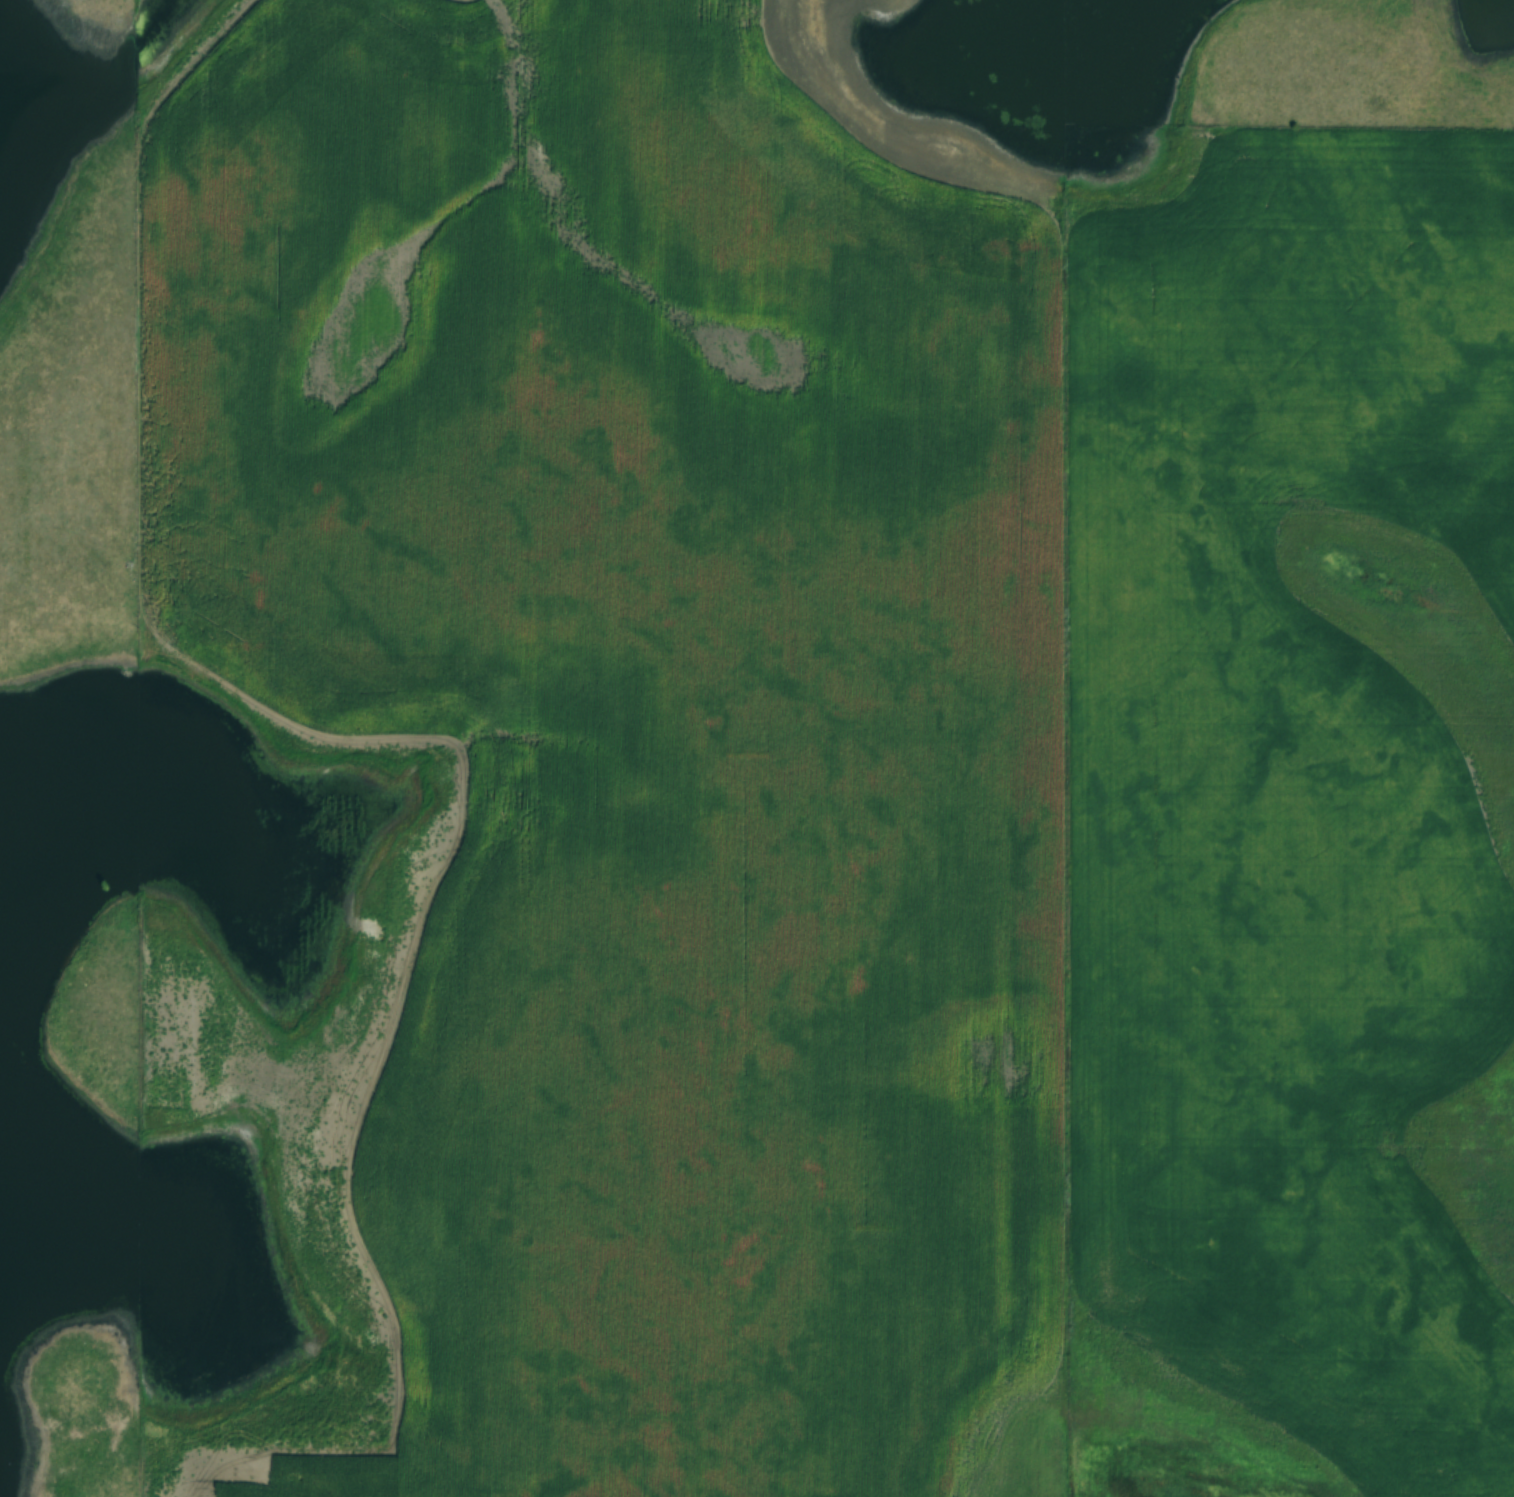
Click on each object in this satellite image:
crop: (1286, 435)

